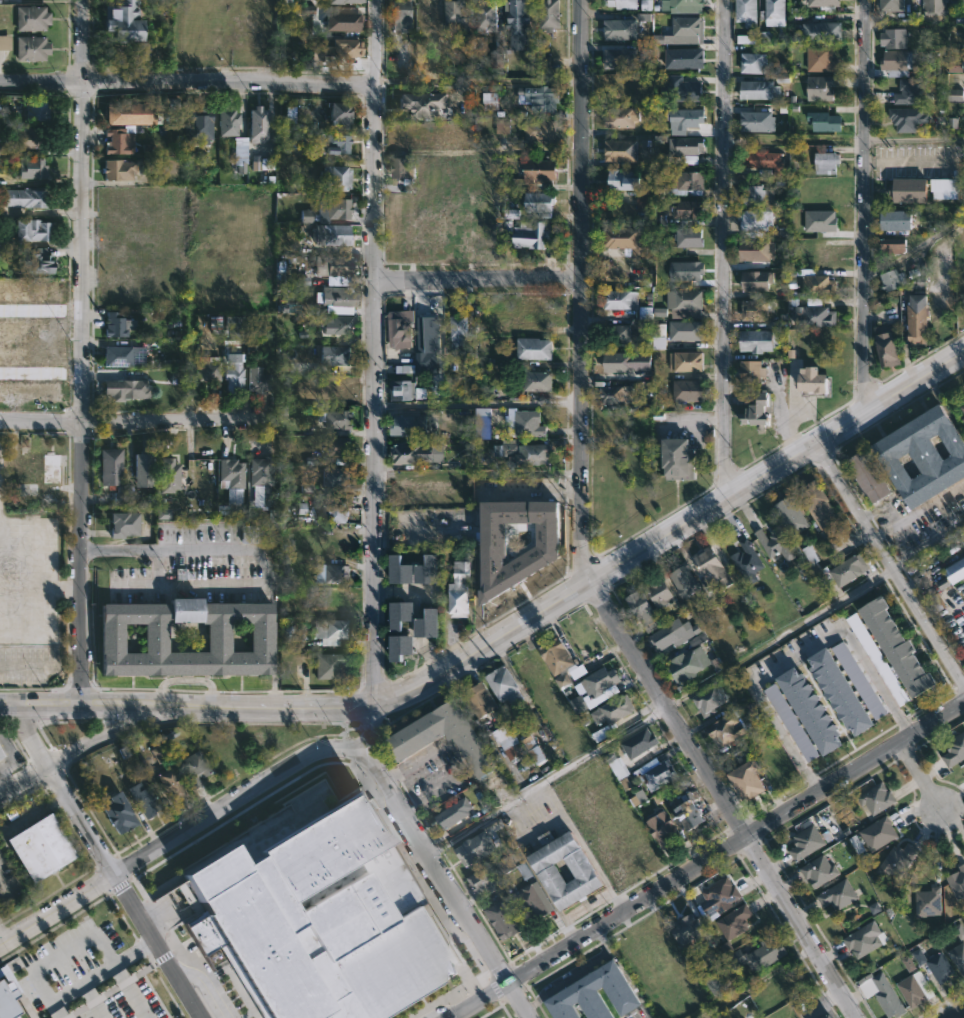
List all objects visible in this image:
building: (346, 1)
building: (823, 2)
building: (687, 3)
building: (620, 4)
building: (895, 5)
building: (963, 5)
building: (938, 6)
building: (745, 12)
building: (773, 12)
building: (401, 14)
building: (551, 14)
building: (429, 15)
building: (458, 16)
building: (487, 16)
building: (32, 18)
building: (519, 20)
building: (125, 21)
building: (344, 21)
building: (627, 26)
building: (687, 26)
building: (822, 31)
building: (897, 37)
building: (747, 38)
building: (5, 42)
building: (34, 47)
building: (339, 49)
building: (503, 55)
building: (622, 58)
building: (687, 58)
building: (821, 58)
building: (756, 62)
building: (900, 62)
building: (422, 64)
building: (955, 64)
building: (543, 65)
road: (187, 82)
building: (821, 87)
building: (682, 89)
building: (629, 90)
building: (757, 90)
building: (912, 91)
building: (955, 94)
building: (541, 97)
building: (491, 101)
building: (425, 103)
building: (35, 110)
building: (130, 113)
building: (289, 114)
building: (342, 114)
building: (624, 117)
building: (687, 117)
building: (909, 118)
building: (229, 120)
building: (757, 121)
building: (824, 121)
building: (259, 123)
building: (503, 125)
building: (202, 126)
building: (542, 129)
building: (418, 134)
building: (463, 134)
building: (30, 137)
road: (913, 140)
building: (119, 141)
building: (337, 144)
building: (3, 149)
building: (684, 149)
building: (623, 150)
building: (243, 154)
building: (769, 158)
road: (909, 161)
building: (825, 163)
building: (32, 168)
building: (404, 168)
building: (120, 169)
building: (296, 170)
building: (541, 171)
building: (336, 178)
building: (626, 180)
building: (688, 182)
building: (908, 187)
building: (945, 188)
building: (760, 195)
building: (26, 197)
building: (543, 200)
road: (863, 207)
building: (688, 209)
building: (307, 215)
building: (893, 218)
building: (326, 219)
building: (756, 219)
building: (821, 222)
building: (458, 226)
building: (400, 229)
building: (34, 230)
building: (429, 231)
building: (534, 235)
building: (625, 237)
building: (688, 237)
building: (890, 245)
building: (755, 249)
road: (723, 251)
building: (35, 262)
building: (335, 266)
building: (685, 269)
building: (757, 280)
building: (895, 280)
road: (478, 281)
building: (814, 281)
building: (337, 296)
building: (30, 297)
building: (626, 300)
building: (686, 303)
building: (756, 308)
building: (534, 315)
building: (816, 315)
building: (919, 319)
building: (117, 324)
building: (339, 324)
building: (235, 327)
building: (29, 328)
building: (402, 328)
building: (685, 330)
building: (429, 332)
building: (460, 333)
building: (621, 335)
building: (761, 340)
building: (884, 347)
building: (537, 349)
road: (79, 353)
building: (124, 355)
building: (335, 355)
building: (29, 356)
building: (468, 359)
building: (685, 360)
building: (627, 362)
building: (209, 371)
building: (236, 371)
building: (754, 372)
building: (259, 380)
building: (540, 381)
building: (809, 381)
building: (126, 389)
building: (403, 390)
building: (337, 391)
building: (691, 391)
building: (29, 393)
building: (617, 395)
road: (476, 402)
building: (963, 408)
building: (757, 409)
building: (338, 418)
road: (133, 422)
building: (483, 423)
building: (406, 424)
building: (529, 424)
building: (339, 447)
building: (525, 453)
building: (405, 454)
building: (922, 456)
building: (676, 458)
building: (143, 466)
building: (231, 473)
building: (112, 474)
building: (171, 474)
building: (262, 475)
building: (336, 476)
building: (866, 476)
building: (525, 484)
building: (408, 496)
building: (459, 503)
building: (816, 503)
building: (337, 511)
building: (162, 514)
building: (795, 519)
building: (124, 525)
road: (369, 531)
building: (242, 533)
road: (669, 535)
building: (774, 543)
road: (928, 543)
road: (579, 547)
road: (94, 548)
road: (257, 554)
building: (545, 554)
building: (746, 561)
building: (809, 561)
road: (892, 563)
building: (710, 567)
building: (847, 568)
building: (954, 570)
building: (431, 571)
building: (403, 572)
building: (336, 574)
building: (683, 580)
building: (461, 590)
building: (657, 591)
building: (329, 597)
building: (288, 602)
building: (642, 610)
building: (407, 614)
building: (434, 624)
building: (332, 632)
building: (672, 633)
building: (219, 636)
road: (780, 640)
building: (893, 646)
building: (408, 647)
building: (553, 655)
building: (878, 659)
building: (685, 663)
building: (330, 666)
building: (563, 679)
road: (874, 679)
building: (598, 680)
building: (860, 680)
building: (509, 684)
building: (841, 692)
road: (756, 694)
building: (483, 700)
building: (707, 700)
road: (184, 707)
building: (611, 708)
building: (753, 709)
building: (811, 710)
building: (791, 722)
building: (723, 729)
building: (415, 740)
building: (637, 743)
building: (515, 747)
building: (954, 749)
road: (79, 754)
building: (158, 754)
road: (459, 754)
building: (537, 754)
building: (0, 756)
building: (194, 767)
building: (619, 767)
building: (658, 774)
road: (545, 777)
road: (919, 777)
building: (745, 780)
building: (171, 783)
road: (60, 792)
building: (875, 797)
building: (144, 798)
road: (236, 799)
building: (119, 811)
building: (456, 814)
building: (684, 816)
building: (660, 829)
building: (878, 833)
building: (805, 841)
building: (42, 845)
building: (478, 849)
building: (898, 858)
road: (707, 860)
building: (553, 871)
building: (816, 871)
building: (483, 882)
building: (957, 882)
building: (836, 894)
building: (717, 896)
building: (536, 900)
building: (927, 902)
road: (56, 908)
building: (315, 920)
building: (505, 920)
building: (734, 920)
building: (689, 928)
building: (959, 931)
building: (862, 940)
road: (155, 947)
road: (61, 953)
building: (757, 954)
building: (958, 956)
building: (909, 963)
building: (935, 965)
parking lot: (84, 973)
road: (99, 975)
building: (716, 982)
road: (203, 984)
building: (911, 990)
building: (591, 995)
building: (6, 1002)
building: (890, 1004)
road: (956, 1013)
building: (823, 1015)
building: (831, 1016)
road: (60, 1017)

